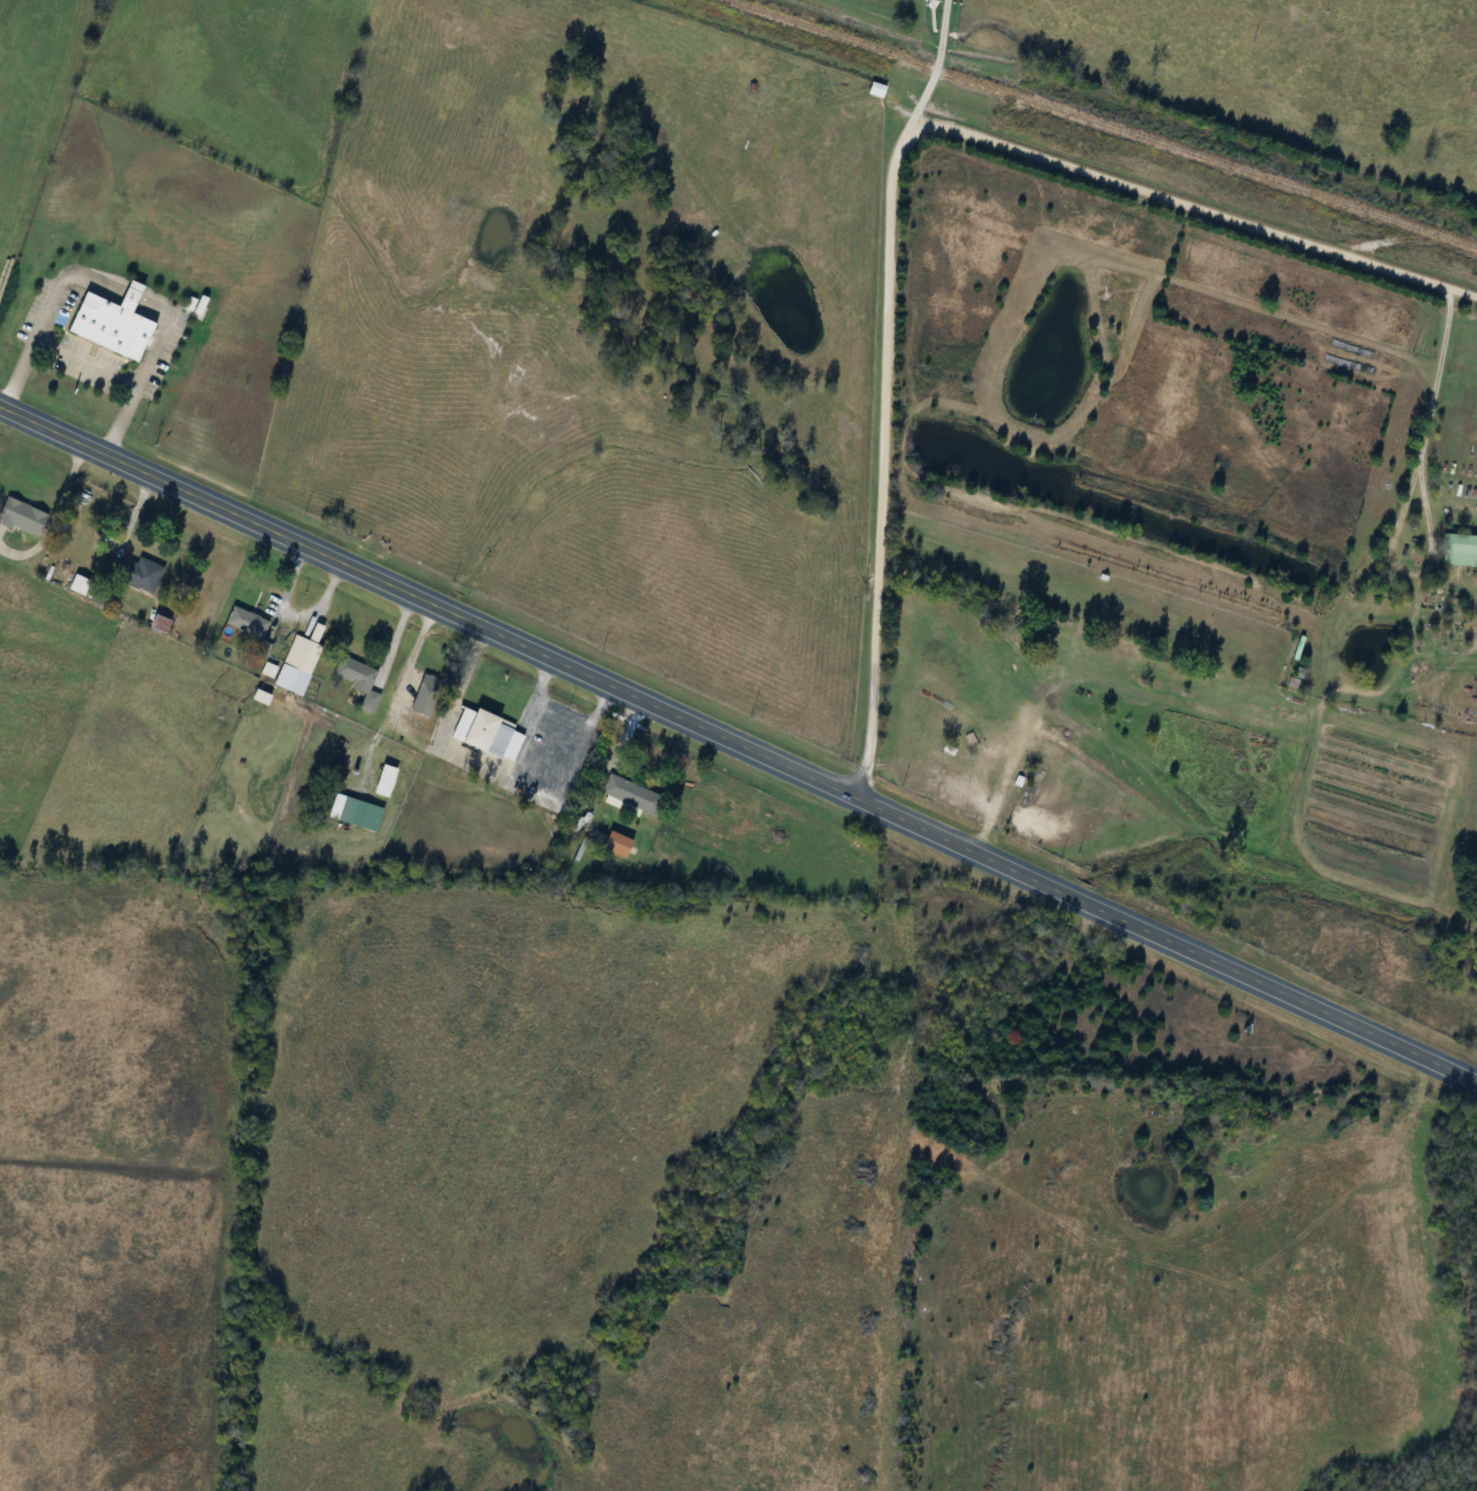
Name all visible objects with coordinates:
road: (935, 68)
building: (872, 90)
railway: (1101, 123)
road: (892, 167)
building: (115, 324)
road: (83, 361)
road: (1433, 408)
road: (236, 511)
building: (23, 517)
building: (1457, 550)
building: (134, 572)
building: (81, 584)
building: (249, 622)
building: (163, 624)
building: (300, 661)
building: (359, 680)
building: (427, 695)
building: (490, 734)
building: (387, 781)
building: (633, 794)
building: (357, 812)
road: (973, 851)

